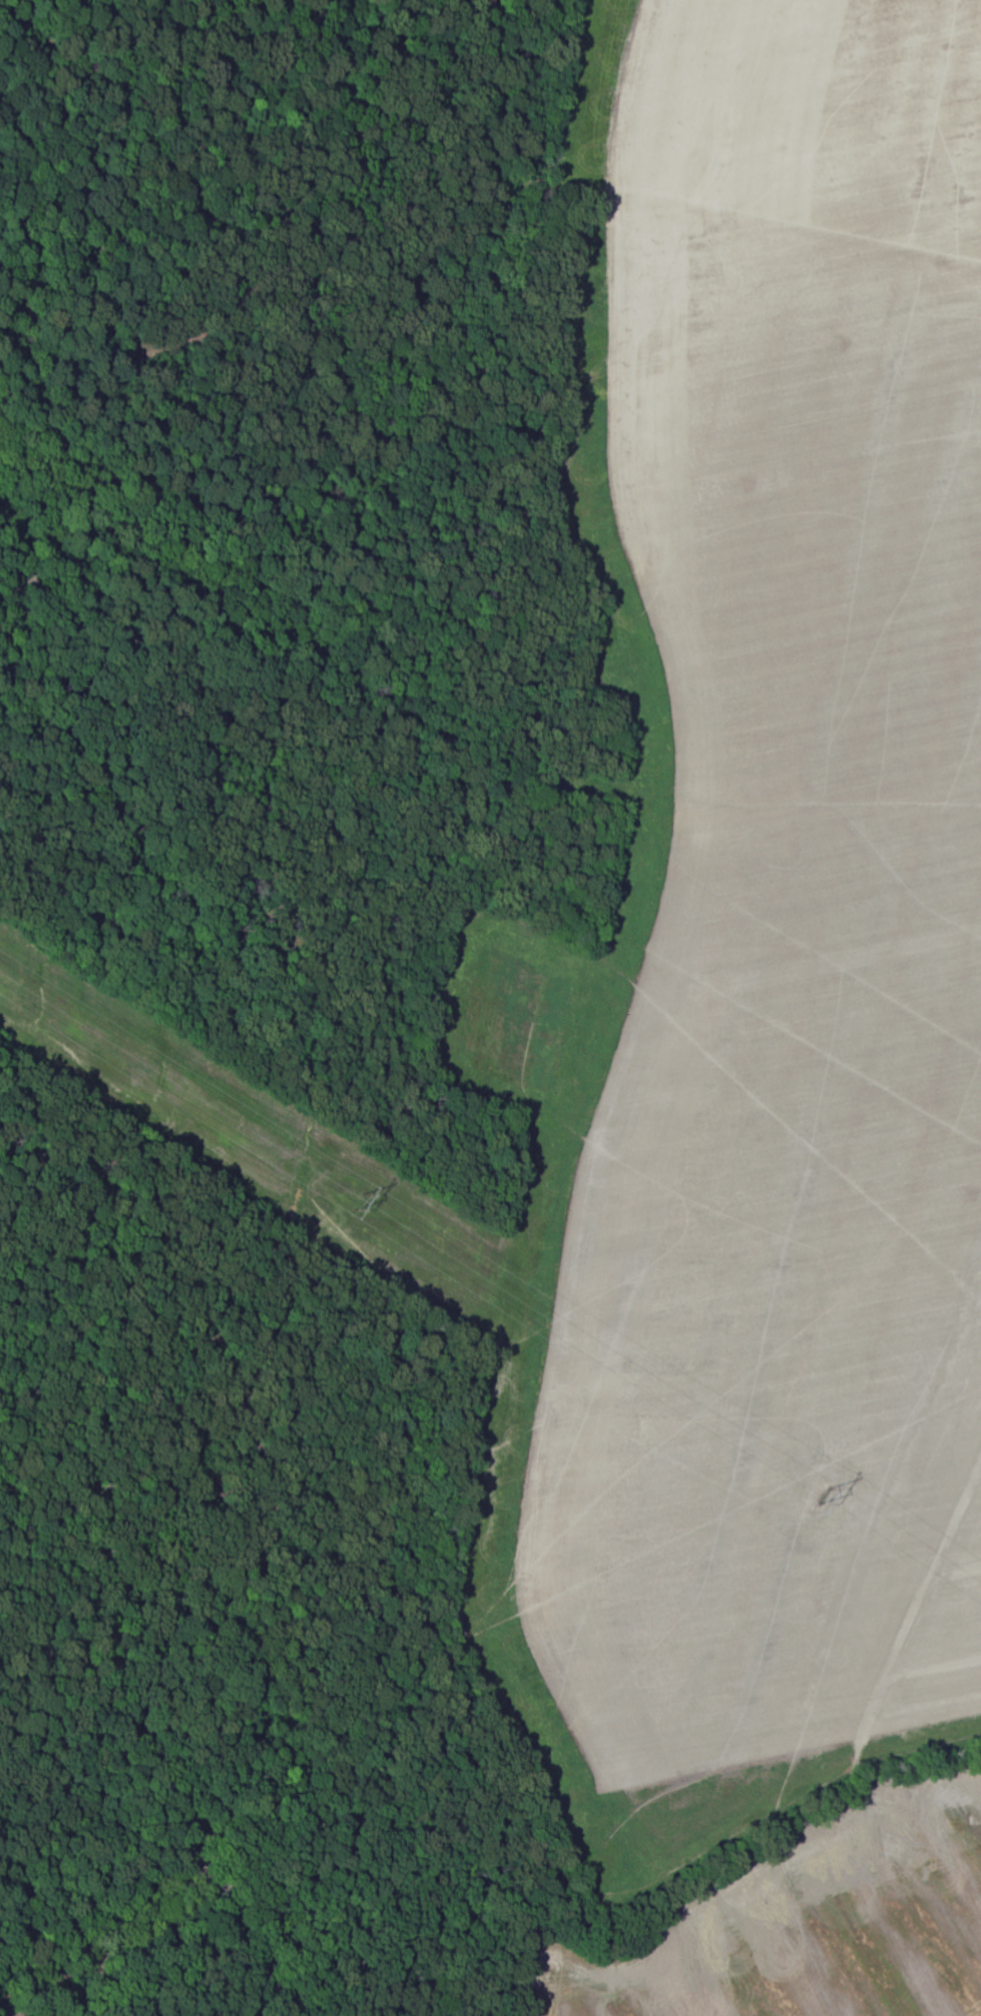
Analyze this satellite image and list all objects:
power tower: (356, 1203)
power tower: (822, 1498)

